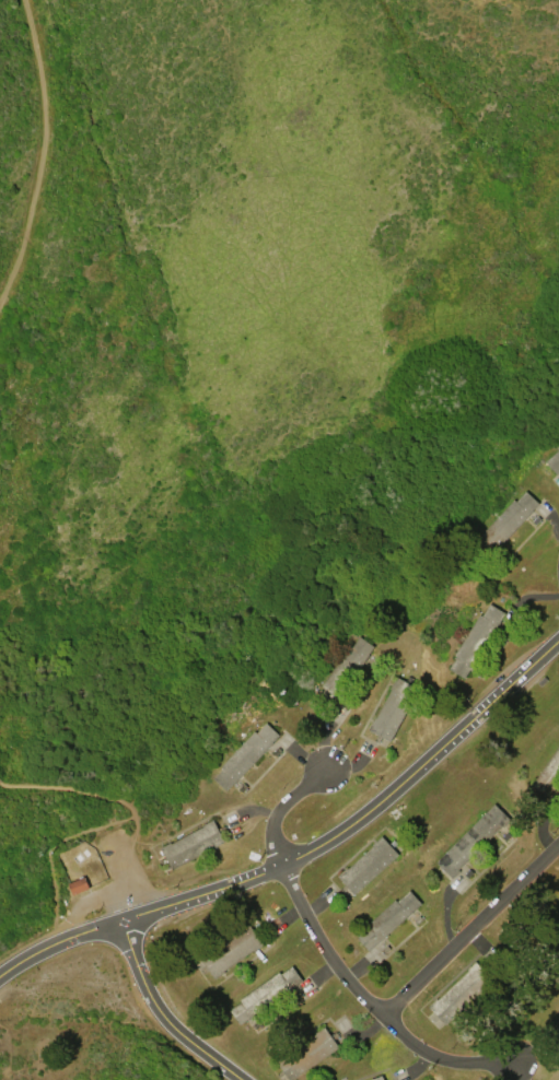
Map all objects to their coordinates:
road: (46, 153)
building: (556, 458)
building: (512, 519)
building: (479, 639)
building: (352, 668)
building: (396, 709)
building: (248, 756)
building: (550, 775)
road: (0, 783)
road: (125, 800)
road: (280, 808)
road: (363, 818)
building: (476, 840)
building: (195, 846)
road: (51, 850)
building: (373, 867)
building: (81, 888)
building: (395, 918)
road: (471, 929)
road: (58, 941)
building: (234, 950)
building: (462, 993)
building: (268, 997)
road: (373, 1001)
road: (161, 1014)
building: (308, 1054)
building: (379, 1079)

